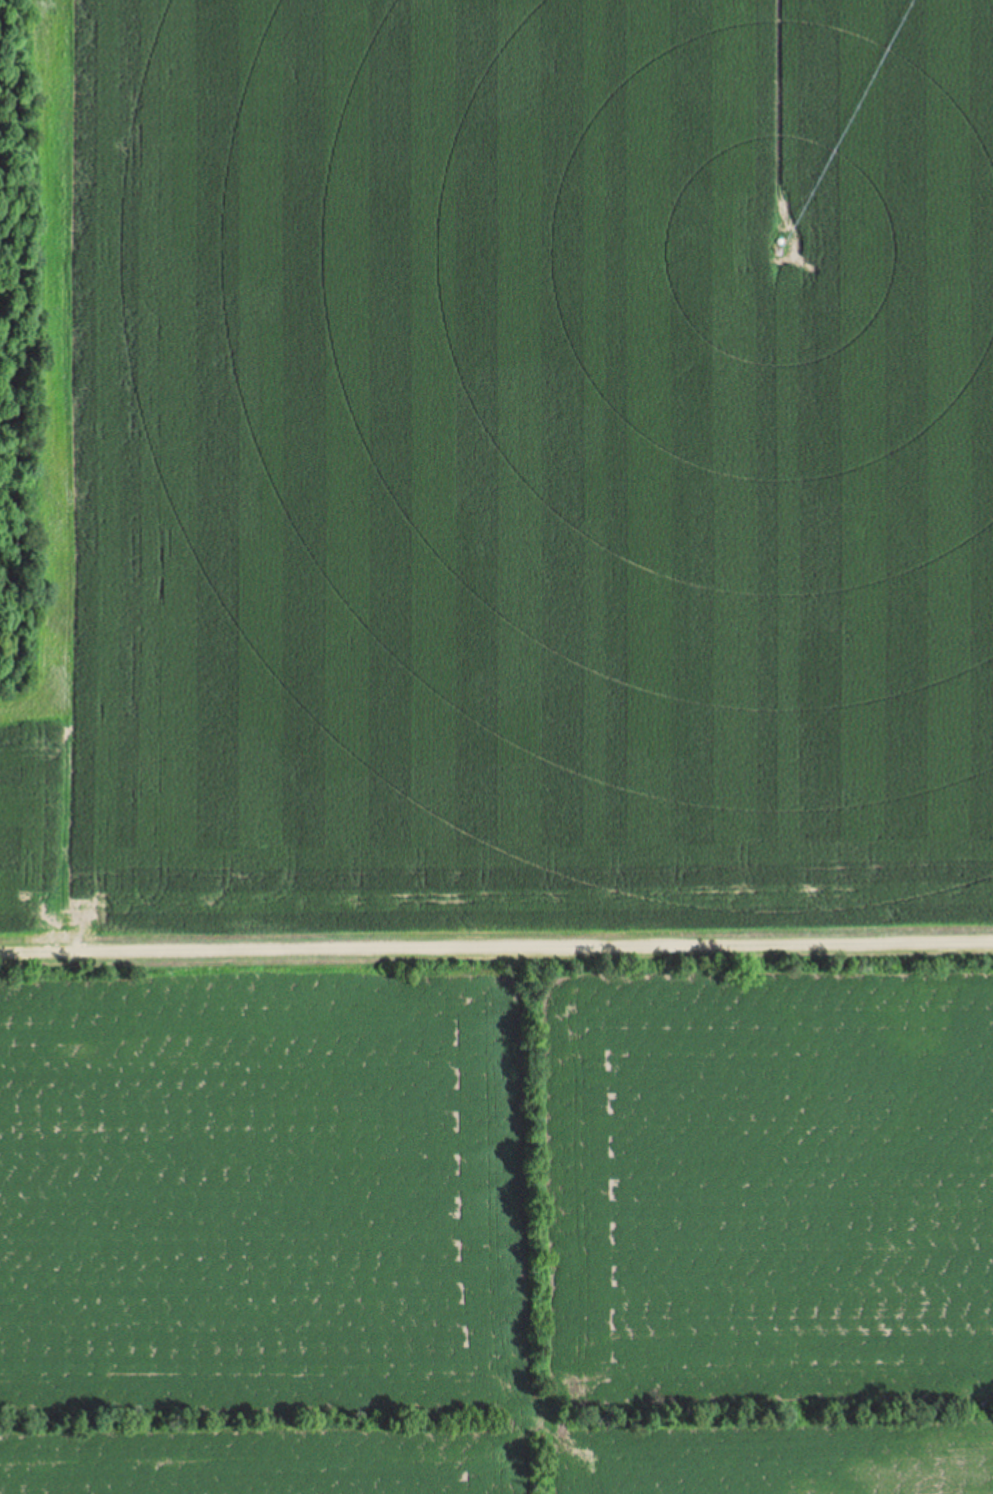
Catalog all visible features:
road: (496, 949)

